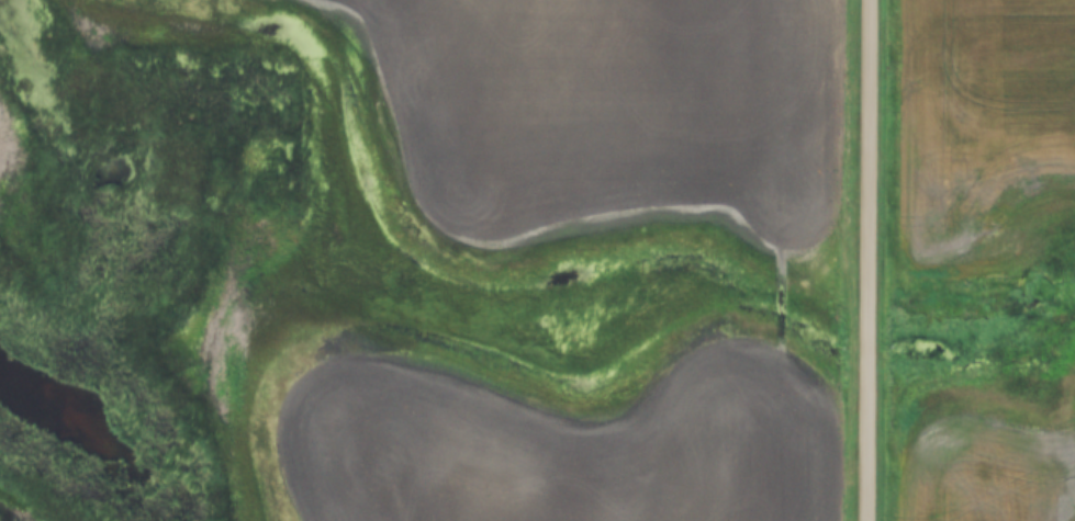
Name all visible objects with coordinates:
road: (869, 260)

